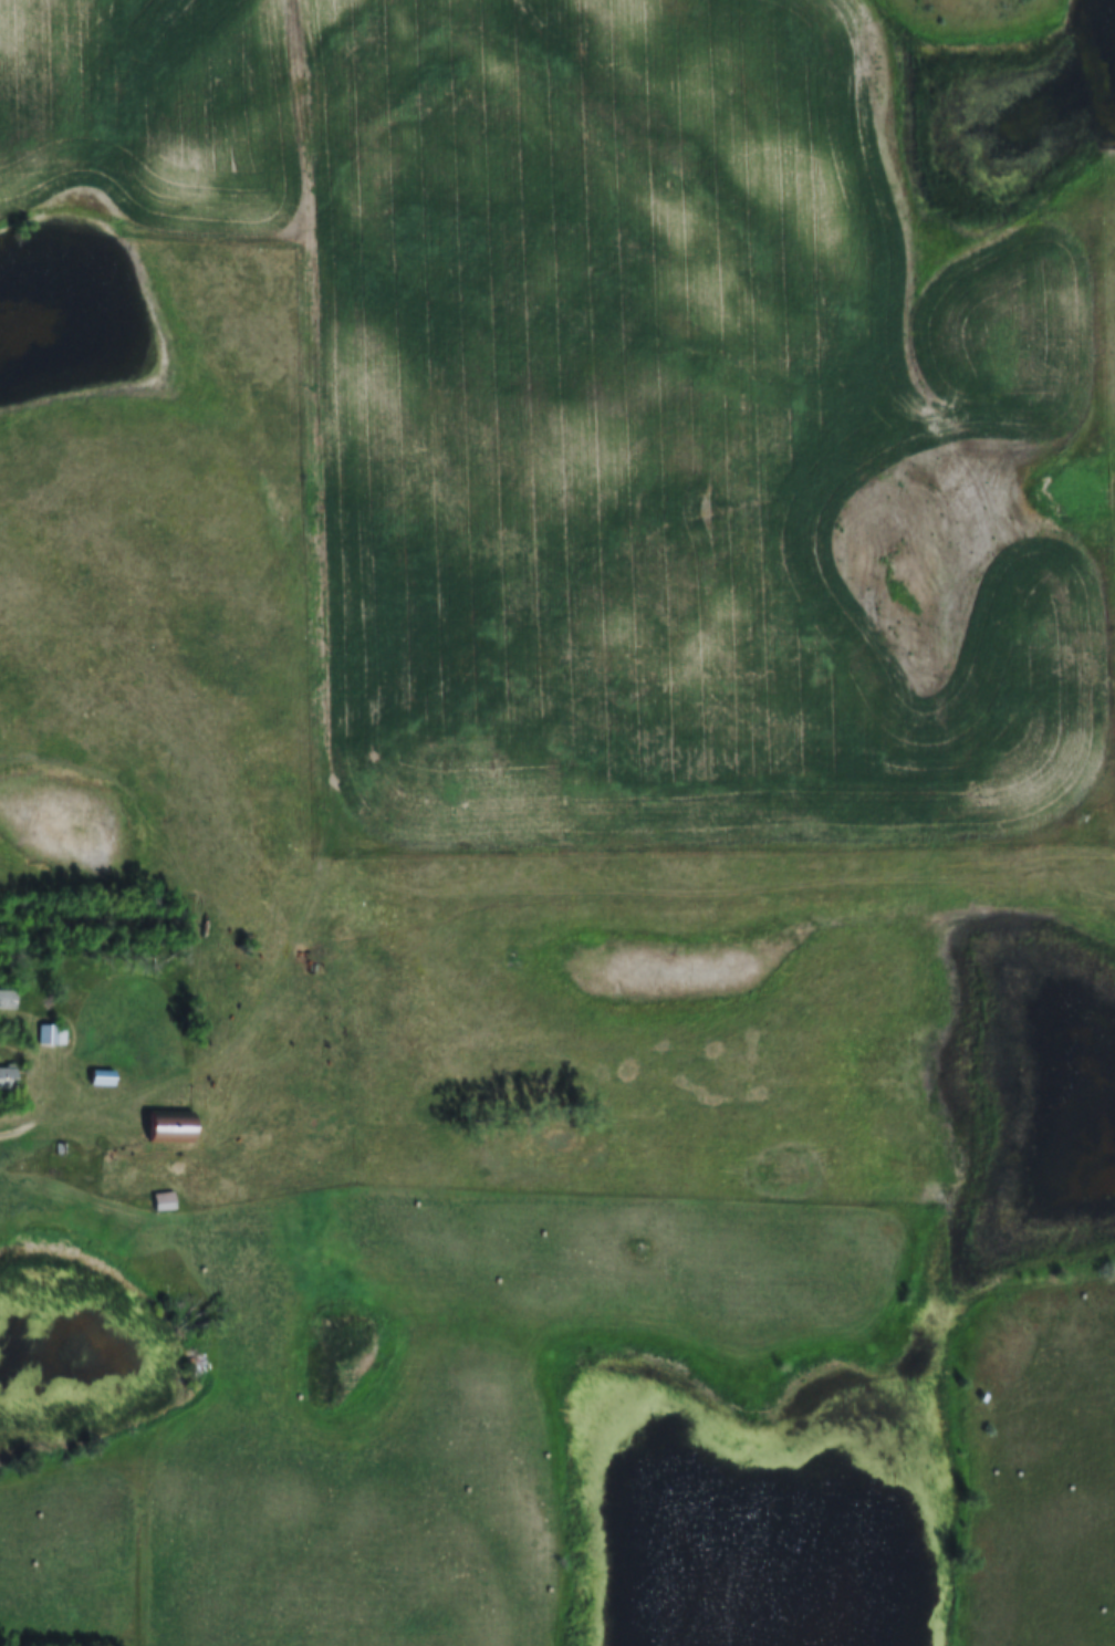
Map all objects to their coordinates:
building: (9, 1001)
building: (51, 1036)
building: (102, 1079)
building: (8, 1080)
road: (22, 1127)
building: (173, 1127)
building: (163, 1202)

